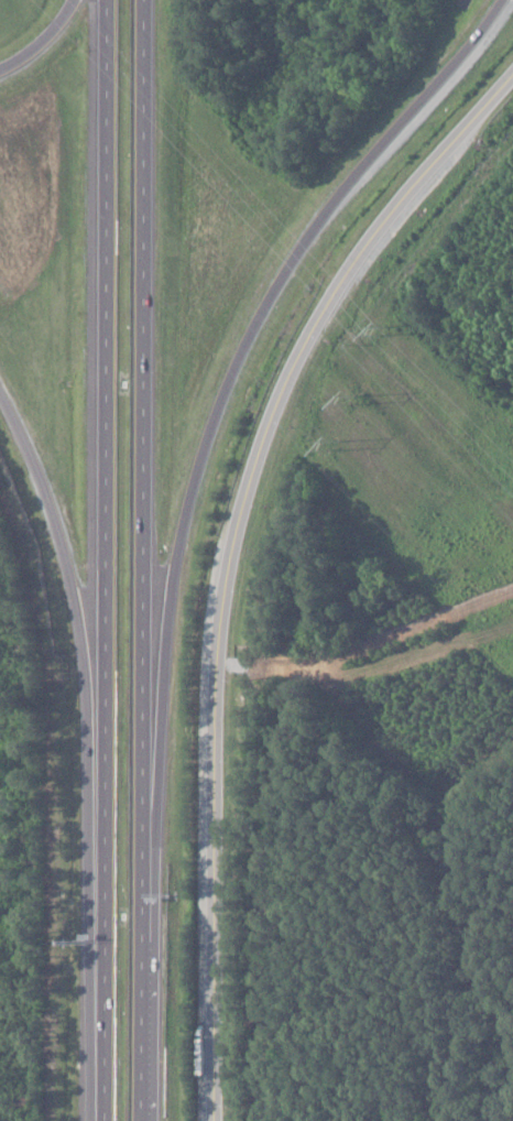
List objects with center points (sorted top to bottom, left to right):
road: (43, 39)
power tower: (384, 330)
road: (237, 356)
power tower: (352, 400)
power tower: (336, 448)
road: (143, 559)
road: (103, 560)
road: (248, 564)
road: (67, 578)

